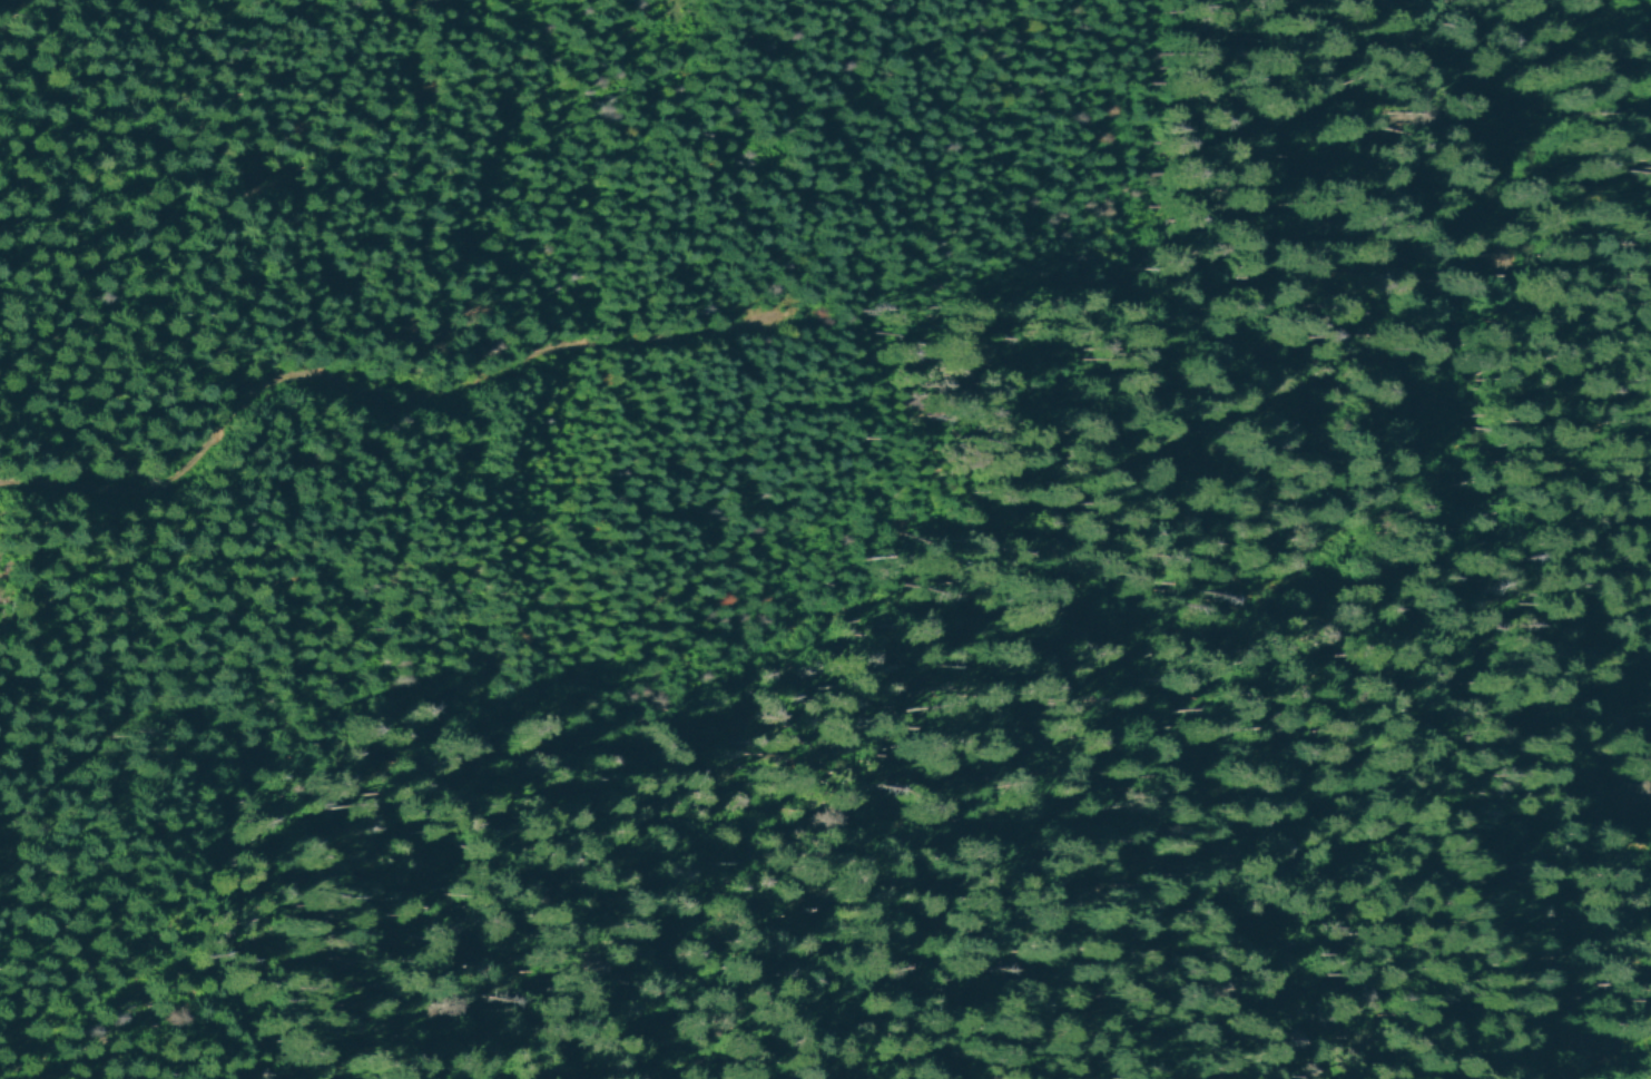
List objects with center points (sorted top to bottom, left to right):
road: (353, 393)

